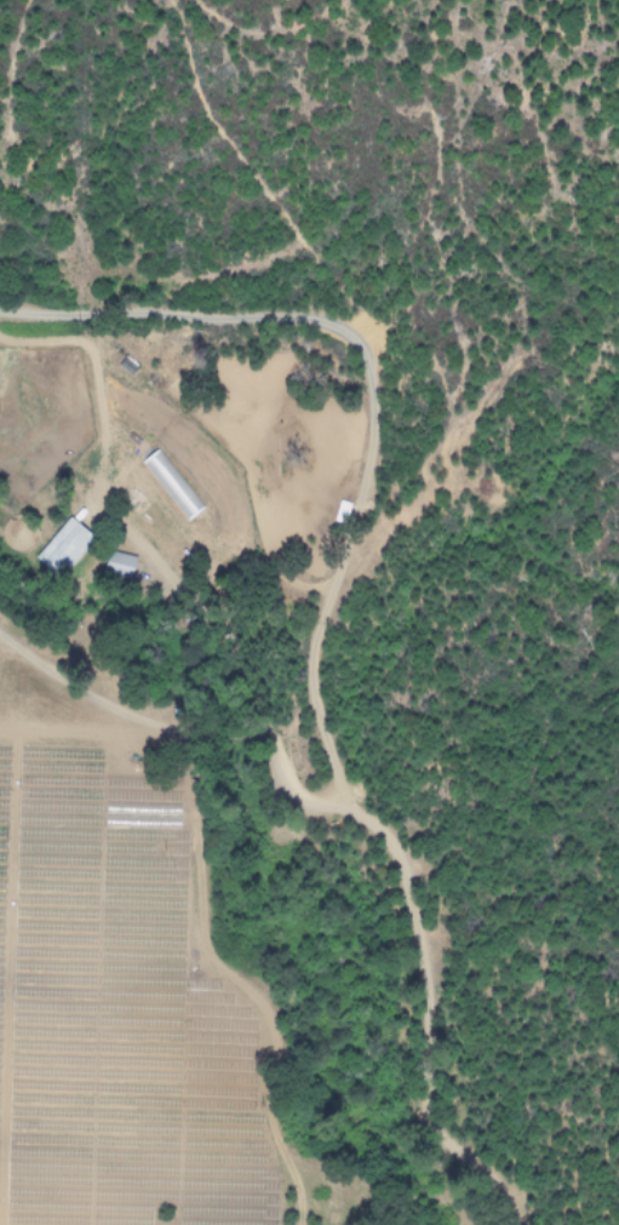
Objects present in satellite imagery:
building: (173, 485)
building: (342, 513)
building: (64, 548)
building: (120, 561)
road: (317, 626)
road: (178, 739)

